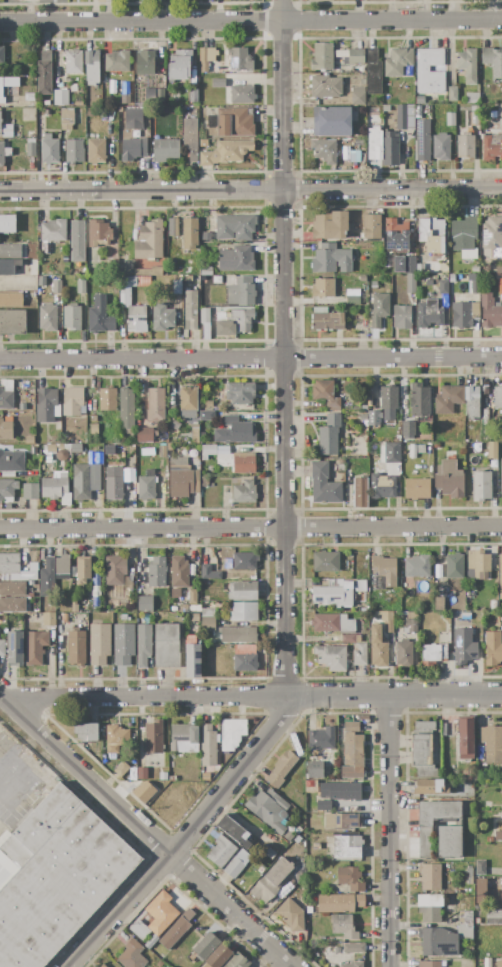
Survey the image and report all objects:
road: (250, 21)
building: (1, 54)
building: (206, 57)
building: (322, 57)
building: (352, 57)
building: (235, 59)
building: (398, 61)
building: (493, 61)
building: (73, 62)
building: (117, 62)
building: (145, 62)
building: (179, 65)
building: (467, 65)
building: (92, 67)
building: (24, 70)
building: (423, 71)
building: (373, 72)
building: (44, 73)
building: (160, 78)
building: (363, 81)
building: (218, 82)
building: (7, 86)
building: (325, 87)
building: (150, 89)
building: (242, 94)
building: (452, 94)
building: (192, 95)
building: (358, 96)
building: (60, 97)
building: (472, 97)
building: (125, 99)
building: (419, 100)
building: (46, 102)
building: (386, 108)
building: (119, 109)
building: (501, 110)
building: (47, 111)
building: (404, 117)
building: (66, 118)
building: (133, 119)
building: (450, 119)
building: (228, 121)
building: (331, 121)
building: (0, 127)
building: (30, 134)
building: (201, 134)
building: (190, 138)
building: (422, 141)
building: (203, 143)
building: (358, 143)
building: (375, 144)
building: (441, 147)
building: (491, 147)
building: (465, 148)
building: (30, 149)
building: (133, 149)
building: (164, 149)
building: (390, 149)
building: (49, 150)
building: (324, 150)
building: (74, 151)
building: (95, 151)
building: (225, 152)
building: (2, 153)
building: (345, 153)
building: (355, 156)
road: (251, 190)
building: (7, 224)
building: (329, 225)
building: (371, 226)
building: (235, 227)
building: (53, 231)
building: (173, 232)
building: (99, 233)
building: (189, 233)
building: (396, 234)
building: (491, 234)
building: (431, 235)
building: (206, 236)
building: (464, 237)
building: (77, 241)
building: (149, 241)
building: (10, 251)
building: (32, 256)
building: (236, 259)
building: (331, 259)
building: (404, 264)
building: (8, 266)
building: (475, 269)
building: (499, 269)
building: (148, 271)
building: (205, 271)
building: (187, 278)
building: (362, 279)
building: (452, 279)
building: (427, 282)
building: (473, 283)
building: (410, 284)
building: (374, 285)
building: (500, 286)
building: (56, 287)
building: (81, 287)
building: (176, 287)
building: (443, 287)
building: (124, 288)
building: (323, 288)
building: (241, 291)
building: (351, 299)
building: (11, 300)
building: (379, 309)
building: (190, 310)
building: (490, 311)
building: (429, 314)
building: (463, 314)
building: (100, 316)
building: (47, 317)
building: (72, 317)
building: (162, 317)
building: (401, 317)
building: (136, 318)
building: (326, 320)
building: (12, 322)
building: (234, 322)
building: (204, 324)
building: (185, 334)
road: (283, 347)
road: (250, 359)
building: (240, 393)
building: (325, 394)
building: (6, 395)
building: (19, 395)
building: (361, 397)
building: (497, 397)
building: (30, 399)
building: (107, 399)
building: (448, 399)
building: (419, 400)
building: (73, 402)
building: (188, 402)
building: (389, 402)
building: (471, 403)
building: (208, 404)
building: (47, 405)
building: (156, 405)
building: (364, 408)
building: (171, 409)
building: (127, 411)
building: (206, 416)
building: (363, 418)
building: (373, 418)
building: (6, 427)
building: (94, 429)
building: (408, 430)
building: (235, 431)
building: (194, 432)
building: (486, 433)
building: (144, 435)
building: (329, 435)
building: (158, 437)
building: (29, 440)
building: (437, 445)
building: (66, 446)
building: (51, 448)
building: (76, 448)
building: (112, 449)
building: (420, 449)
building: (33, 450)
building: (344, 450)
building: (492, 450)
building: (213, 451)
building: (163, 452)
building: (391, 453)
building: (11, 462)
building: (244, 464)
building: (340, 468)
building: (129, 473)
building: (182, 478)
building: (501, 478)
building: (448, 479)
building: (85, 481)
building: (204, 481)
building: (113, 483)
building: (324, 485)
building: (146, 486)
building: (382, 486)
building: (481, 486)
building: (56, 488)
building: (417, 489)
building: (7, 490)
building: (30, 492)
building: (360, 492)
building: (225, 493)
building: (244, 493)
building: (8, 506)
road: (250, 528)
building: (245, 561)
building: (325, 561)
building: (10, 563)
building: (417, 566)
building: (455, 566)
building: (62, 567)
building: (477, 567)
building: (385, 569)
building: (81, 570)
building: (114, 570)
building: (156, 572)
building: (179, 572)
building: (211, 573)
building: (500, 576)
building: (47, 578)
building: (360, 586)
building: (12, 589)
building: (242, 591)
building: (333, 593)
building: (192, 597)
building: (222, 597)
building: (145, 603)
building: (12, 605)
building: (493, 605)
building: (207, 612)
building: (243, 612)
building: (412, 616)
building: (441, 616)
building: (466, 616)
building: (194, 617)
building: (123, 618)
building: (49, 619)
building: (501, 619)
building: (332, 623)
building: (207, 624)
building: (388, 626)
building: (410, 626)
building: (238, 635)
building: (361, 637)
building: (348, 639)
building: (99, 644)
building: (124, 644)
building: (143, 645)
building: (166, 645)
building: (464, 646)
building: (2, 648)
building: (14, 648)
building: (34, 648)
building: (76, 648)
building: (378, 648)
building: (492, 648)
building: (403, 653)
building: (360, 654)
building: (433, 654)
building: (331, 657)
building: (192, 661)
building: (243, 662)
road: (256, 696)
building: (363, 718)
building: (351, 727)
building: (86, 731)
building: (231, 733)
building: (153, 738)
building: (465, 738)
building: (116, 739)
building: (184, 739)
building: (321, 739)
building: (491, 745)
building: (208, 746)
building: (423, 750)
building: (352, 757)
building: (284, 766)
building: (121, 769)
building: (315, 770)
building: (142, 773)
building: (172, 778)
building: (431, 787)
building: (339, 791)
building: (143, 792)
building: (323, 806)
building: (269, 810)
building: (342, 821)
road: (146, 831)
building: (234, 831)
road: (392, 831)
road: (186, 835)
building: (498, 835)
building: (288, 836)
building: (425, 840)
building: (449, 841)
building: (343, 847)
building: (220, 852)
building: (269, 853)
building: (236, 864)
building: (480, 867)
building: (55, 877)
building: (430, 877)
building: (349, 878)
building: (271, 881)
building: (501, 890)
building: (339, 903)
building: (429, 907)
building: (308, 909)
building: (162, 911)
building: (290, 915)
building: (494, 917)
building: (477, 921)
building: (343, 927)
building: (139, 929)
building: (177, 930)
building: (446, 937)
building: (203, 947)
building: (353, 948)
building: (337, 951)
building: (132, 956)
building: (218, 957)
building: (236, 961)
building: (352, 964)
building: (429, 964)
building: (499, 964)
building: (102, 965)

